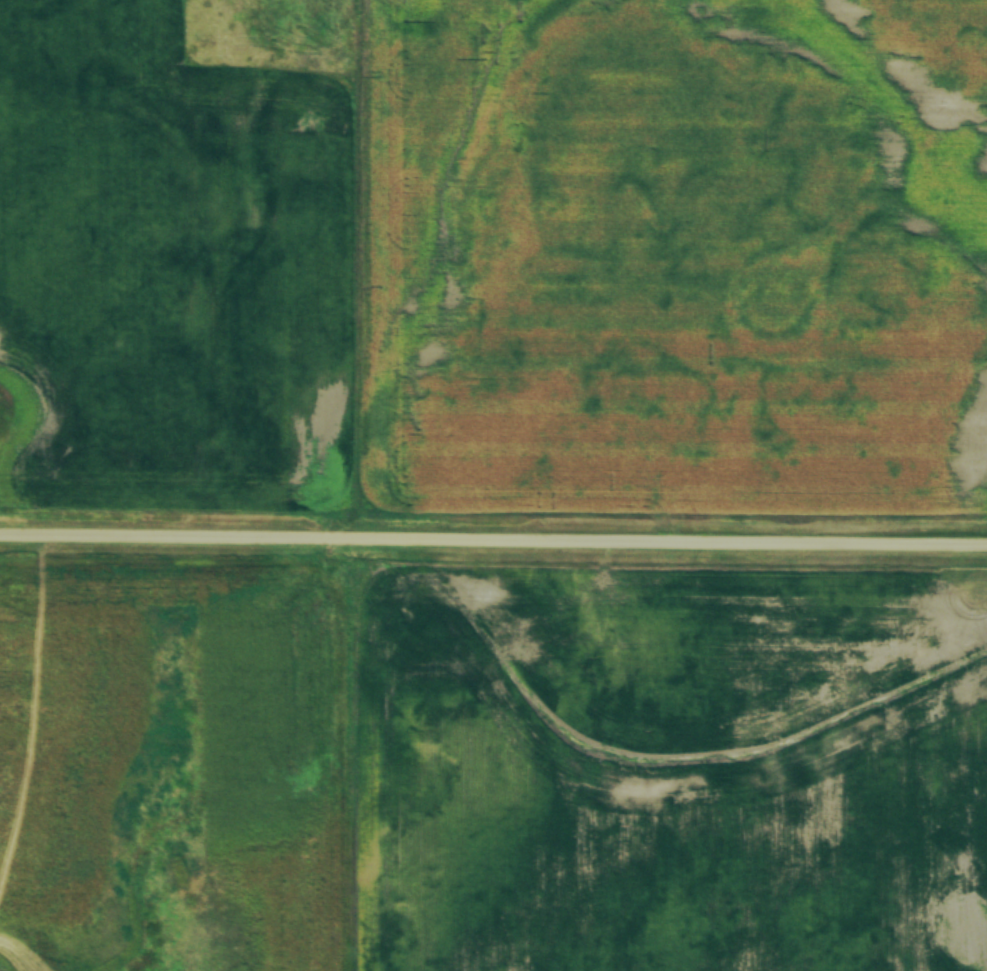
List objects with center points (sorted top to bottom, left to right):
road: (493, 540)

